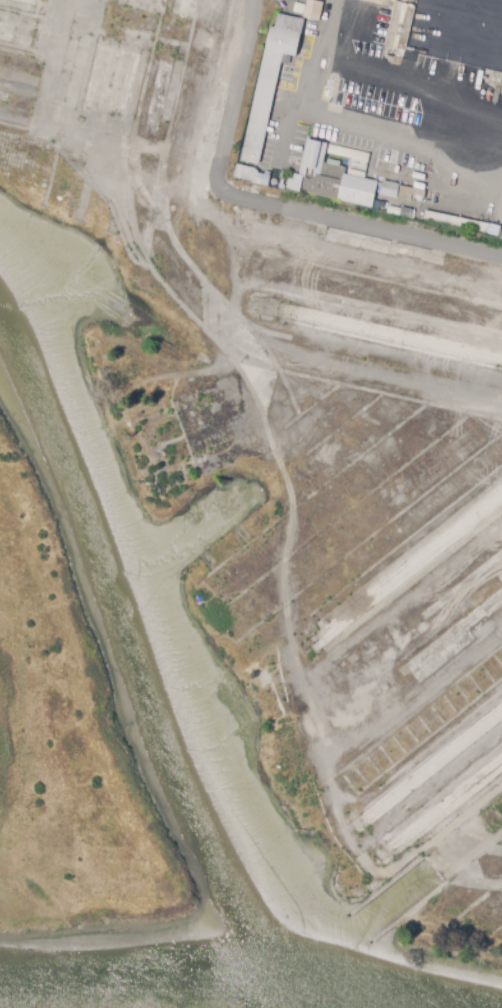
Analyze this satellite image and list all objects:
building: (313, 10)
building: (400, 26)
building: (270, 82)
road: (312, 85)
building: (429, 123)
road: (407, 142)
building: (251, 175)
building: (329, 176)
building: (274, 183)
building: (389, 189)
road: (266, 203)
building: (403, 212)
building: (456, 222)
building: (413, 223)
building: (428, 227)
building: (272, 705)
building: (353, 812)
building: (426, 935)
river: (191, 990)

